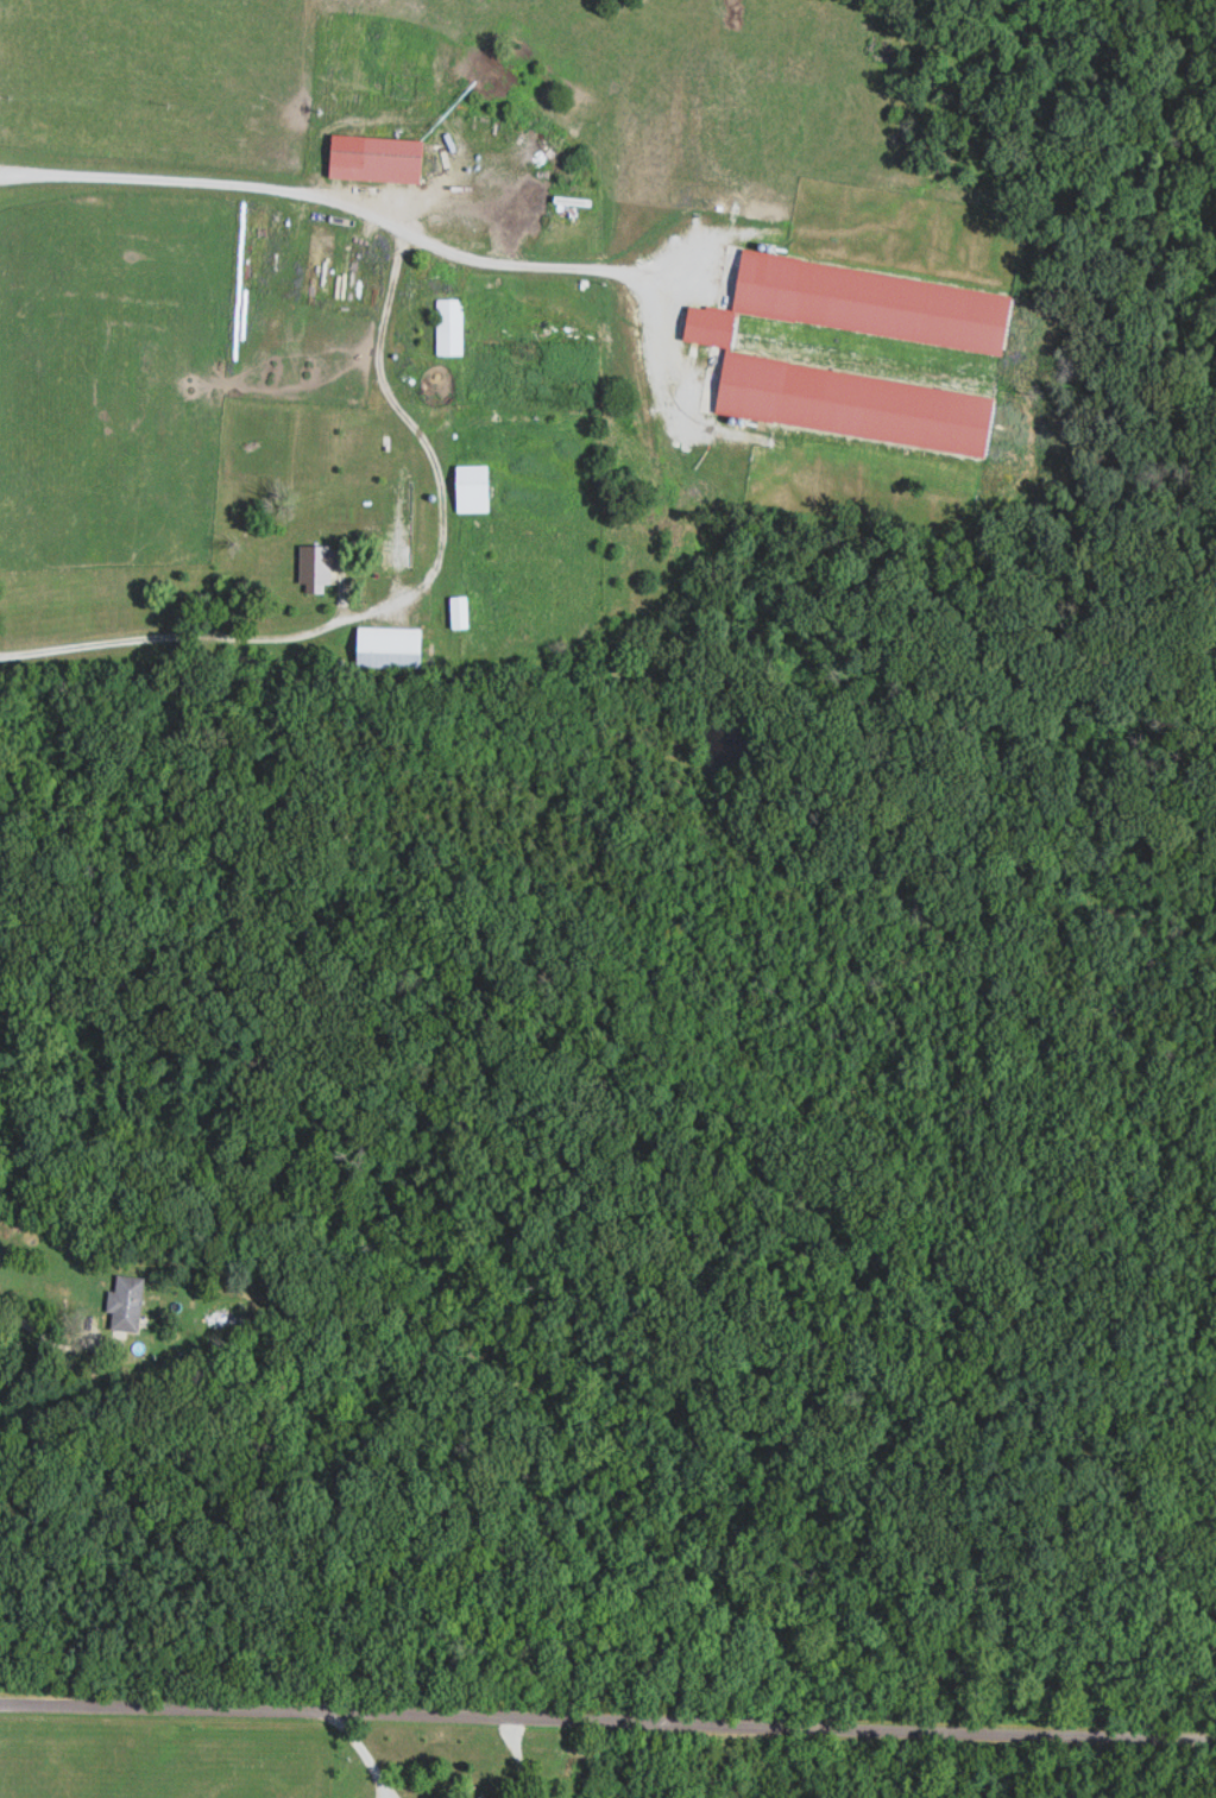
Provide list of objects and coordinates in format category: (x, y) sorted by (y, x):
building: (393, 159)
building: (449, 327)
building: (473, 488)
building: (396, 523)
building: (317, 569)
building: (460, 612)
road: (185, 636)
building: (391, 648)
building: (127, 1302)
road: (607, 1722)
road: (368, 1754)
building: (486, 1797)

